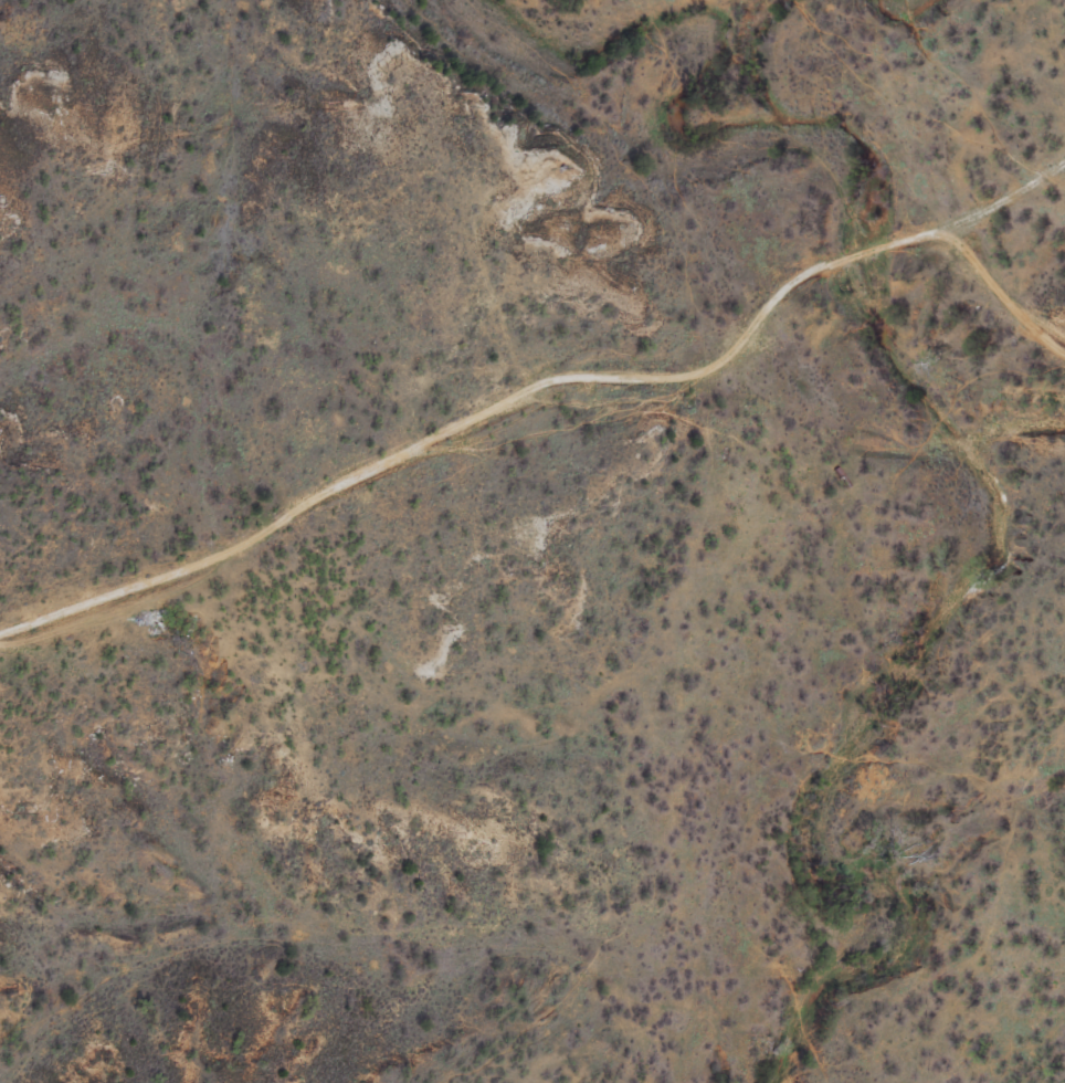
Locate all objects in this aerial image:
road: (549, 381)

